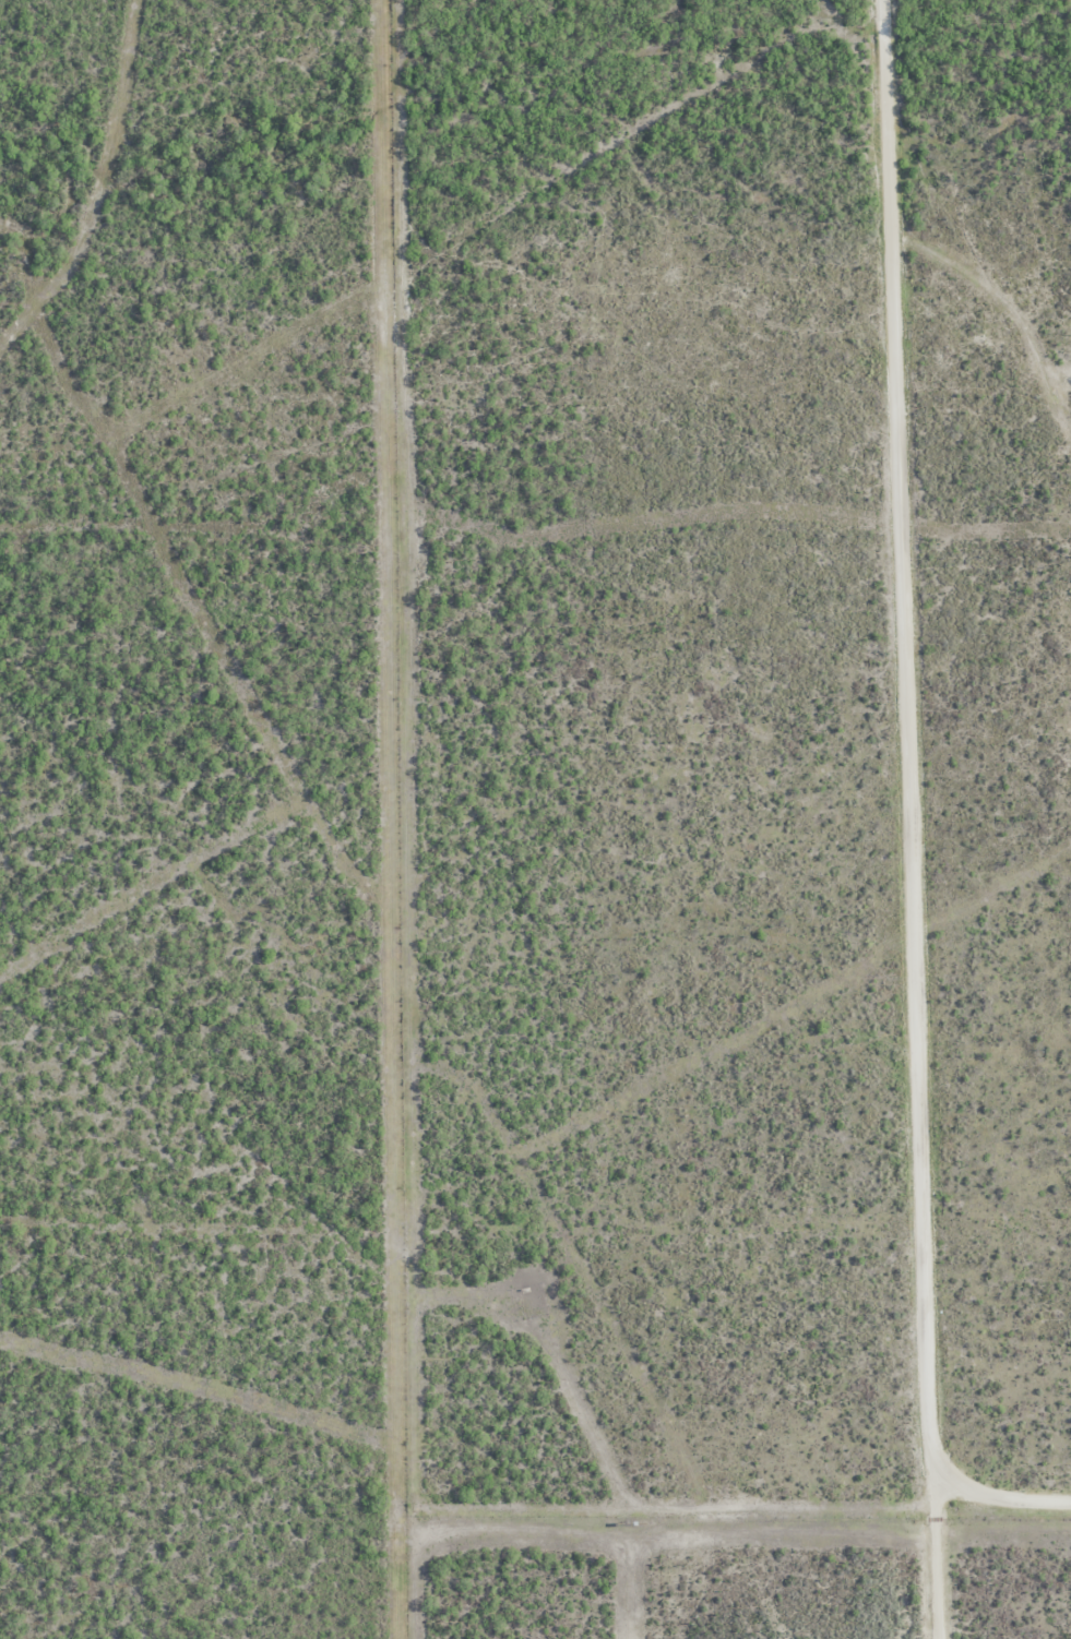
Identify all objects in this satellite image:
road: (911, 820)
road: (998, 1497)

